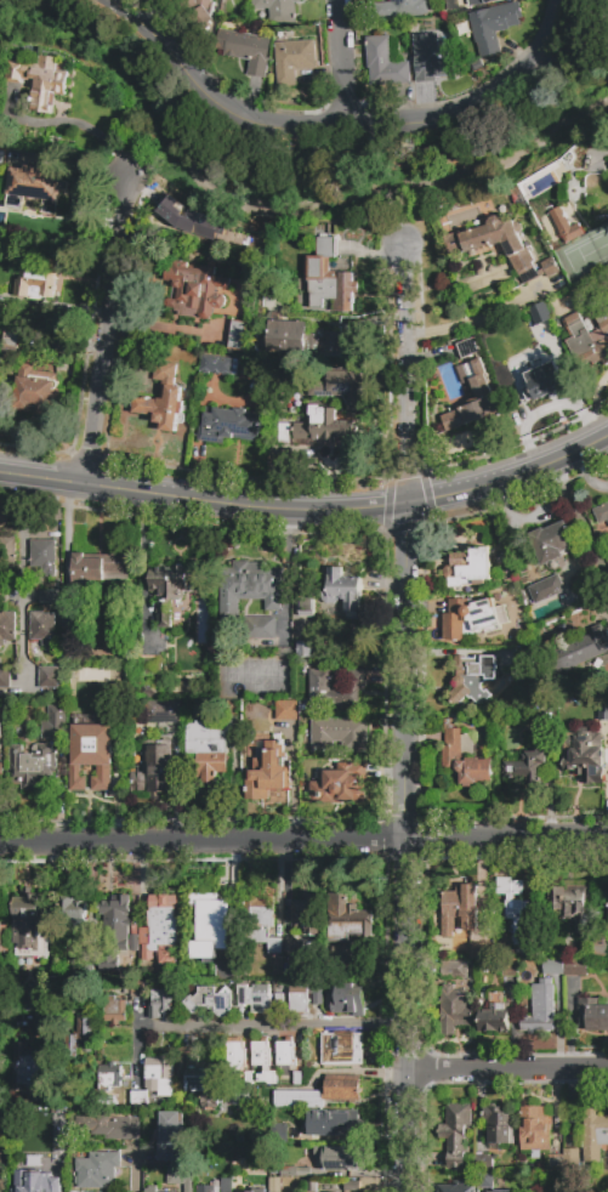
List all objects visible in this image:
building: (479, 1)
building: (405, 8)
building: (277, 11)
road: (153, 12)
building: (195, 12)
building: (494, 24)
building: (244, 50)
building: (431, 58)
building: (292, 59)
road: (343, 63)
building: (383, 63)
building: (38, 83)
road: (348, 127)
building: (2, 157)
building: (592, 158)
building: (33, 187)
building: (192, 220)
building: (265, 226)
building: (566, 226)
building: (172, 232)
building: (462, 249)
building: (329, 278)
building: (38, 279)
building: (194, 289)
building: (607, 305)
building: (539, 313)
road: (476, 317)
road: (107, 333)
building: (238, 335)
building: (12, 336)
building: (302, 339)
building: (589, 340)
building: (467, 348)
building: (218, 365)
road: (404, 375)
building: (542, 381)
building: (339, 386)
building: (36, 391)
building: (163, 401)
building: (475, 401)
building: (229, 425)
building: (324, 426)
traffic signals: (404, 505)
road: (308, 512)
building: (602, 512)
road: (581, 524)
building: (551, 543)
building: (8, 551)
building: (44, 558)
road: (285, 567)
building: (468, 567)
building: (97, 571)
road: (22, 574)
building: (250, 586)
building: (172, 588)
building: (546, 589)
building: (342, 591)
building: (47, 596)
building: (306, 606)
building: (472, 618)
building: (69, 620)
building: (7, 626)
building: (261, 629)
building: (44, 630)
building: (305, 653)
building: (580, 653)
building: (523, 655)
building: (150, 665)
road: (403, 674)
building: (5, 677)
building: (49, 677)
building: (472, 679)
building: (337, 688)
building: (150, 691)
building: (546, 703)
building: (160, 711)
building: (286, 711)
building: (602, 711)
building: (53, 723)
building: (1, 733)
building: (337, 734)
building: (102, 747)
building: (208, 749)
building: (451, 751)
building: (584, 755)
building: (32, 766)
building: (155, 767)
building: (527, 767)
building: (2, 771)
building: (268, 772)
building: (337, 788)
road: (303, 842)
building: (573, 907)
building: (459, 908)
building: (307, 914)
building: (522, 914)
building: (75, 915)
building: (164, 919)
building: (346, 919)
building: (262, 921)
building: (206, 923)
building: (29, 924)
building: (115, 932)
building: (4, 937)
building: (289, 944)
building: (601, 949)
building: (478, 950)
building: (90, 953)
building: (340, 958)
building: (566, 967)
building: (227, 970)
building: (511, 971)
building: (455, 972)
building: (135, 989)
building: (317, 995)
building: (255, 998)
building: (299, 998)
building: (279, 1000)
building: (347, 1000)
building: (210, 1001)
building: (159, 1003)
building: (115, 1010)
building: (455, 1010)
building: (540, 1010)
building: (495, 1015)
building: (592, 1015)
road: (407, 1016)
road: (273, 1028)
building: (80, 1038)
building: (341, 1049)
building: (235, 1056)
building: (288, 1060)
building: (263, 1063)
building: (30, 1069)
road: (507, 1073)
building: (110, 1077)
building: (160, 1077)
building: (249, 1078)
building: (203, 1080)
building: (322, 1094)
building: (140, 1100)
building: (335, 1123)
building: (499, 1125)
building: (109, 1126)
building: (534, 1129)
building: (280, 1131)
building: (455, 1131)
building: (595, 1134)
building: (170, 1136)
building: (336, 1158)
building: (572, 1160)
building: (555, 1163)
building: (223, 1164)
building: (484, 1164)
building: (96, 1170)
building: (289, 1171)
building: (305, 1171)
road: (135, 1173)
building: (181, 1176)
building: (35, 1181)
building: (485, 1182)
building: (203, 1185)
building: (274, 1185)
building: (352, 1186)
building: (312, 1187)
building: (152, 1188)
building: (456, 1188)
building: (257, 1191)
building: (498, 1191)

